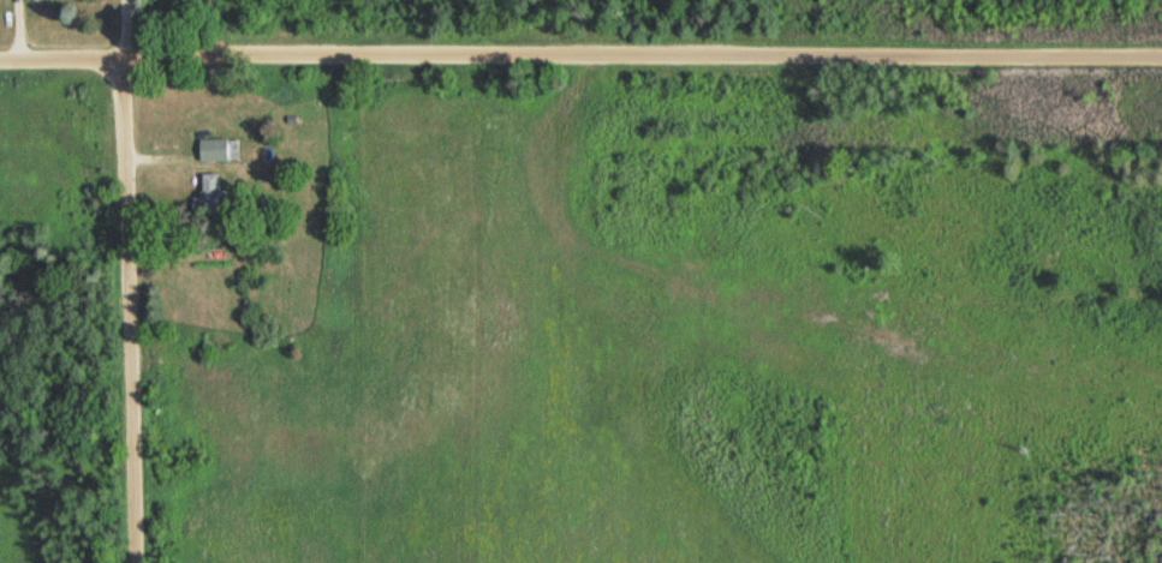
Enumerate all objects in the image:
road: (580, 56)
building: (219, 150)
building: (211, 194)
road: (130, 281)

